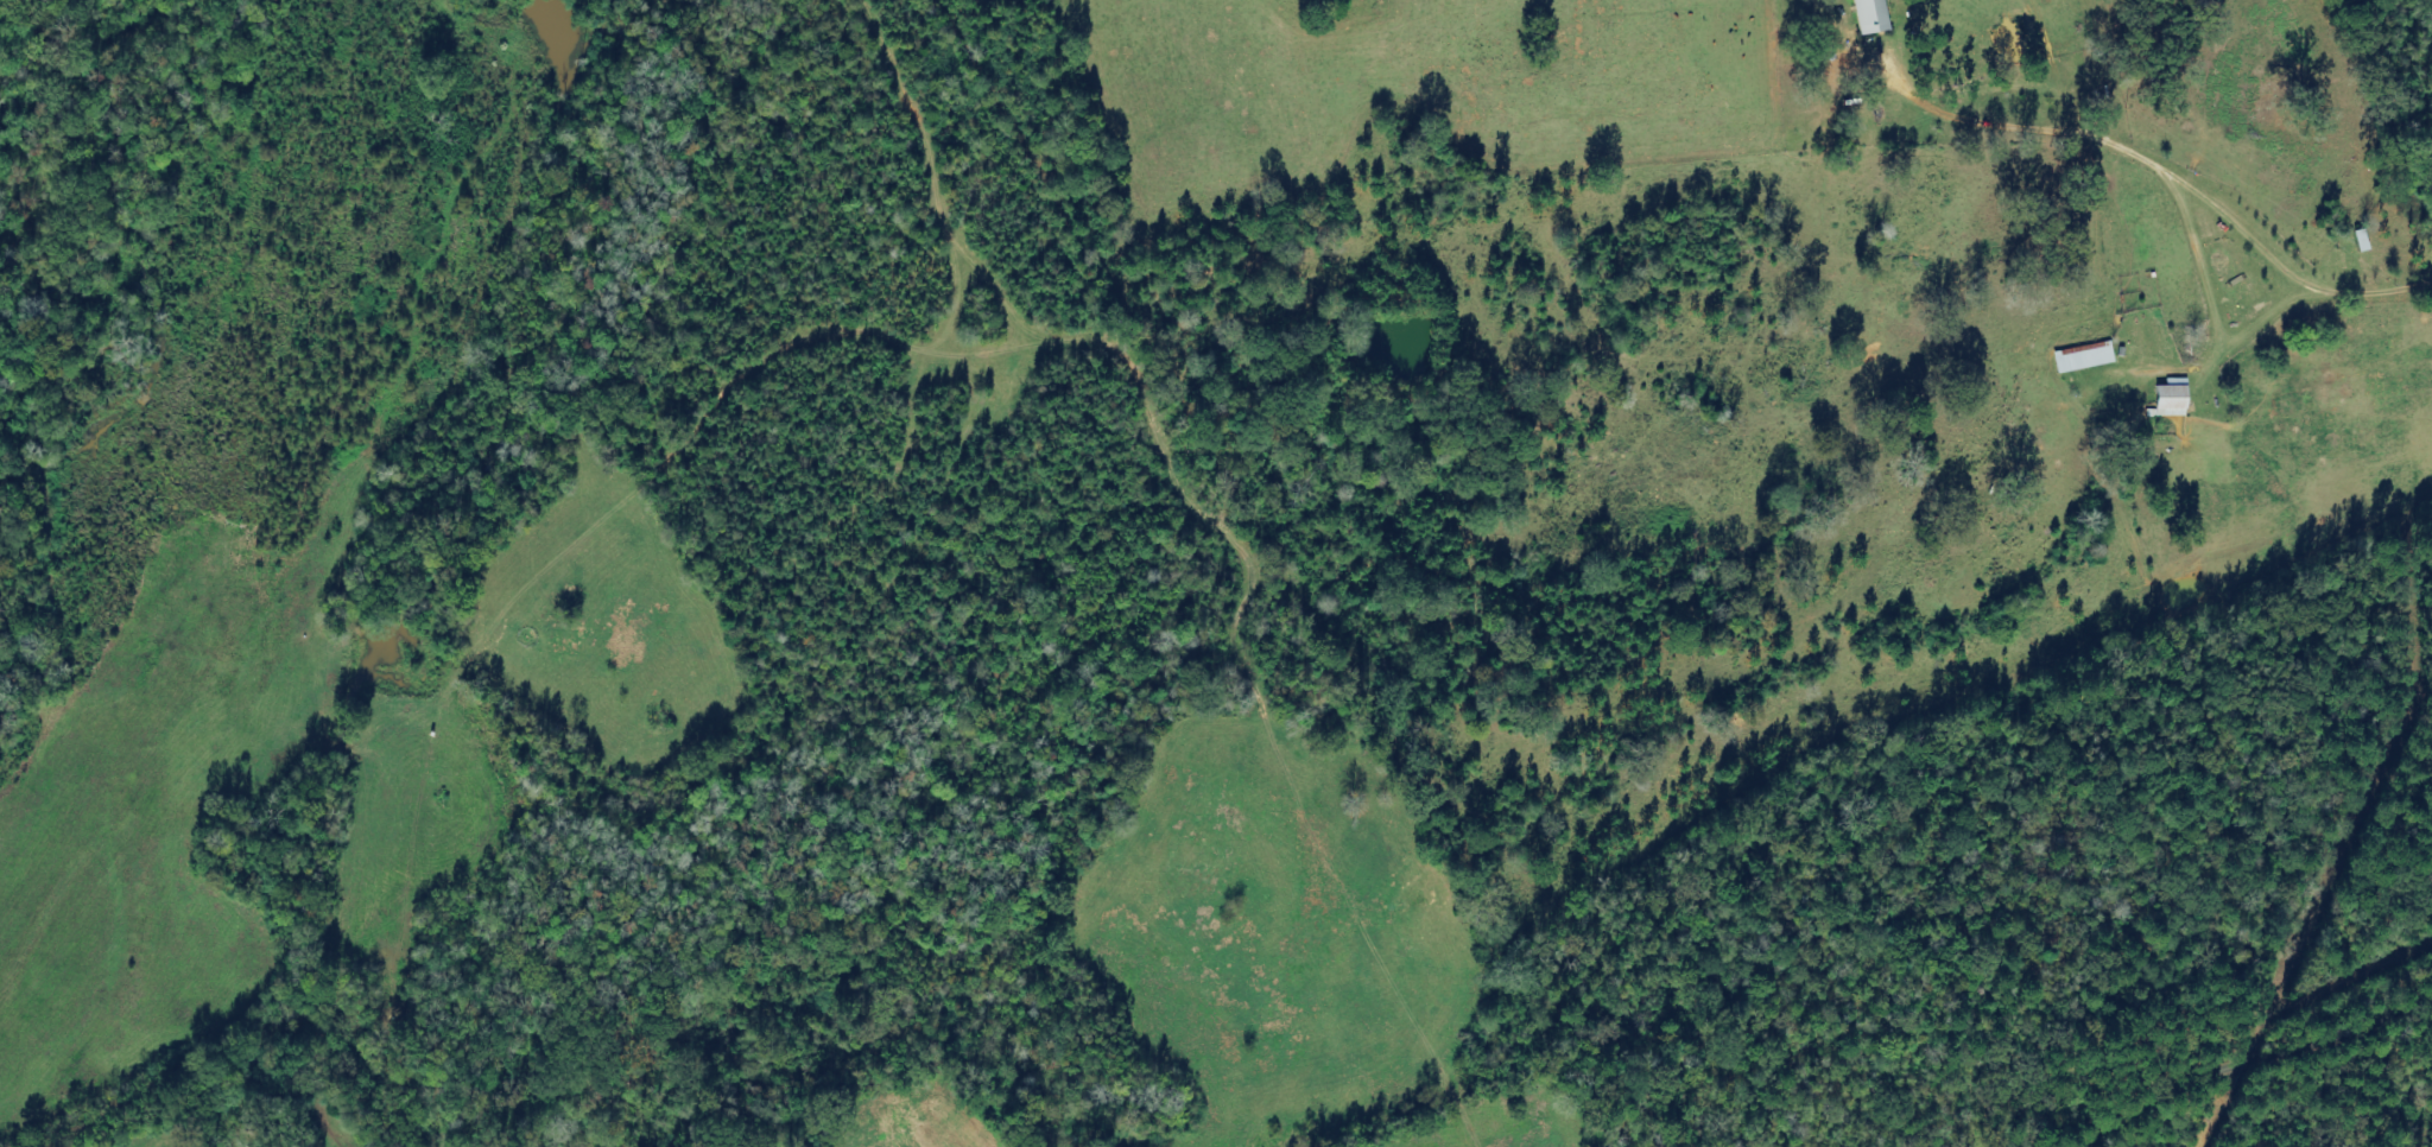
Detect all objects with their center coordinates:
building: (1875, 15)
road: (2263, 313)
building: (2088, 359)
building: (2175, 398)
road: (2260, 1057)

